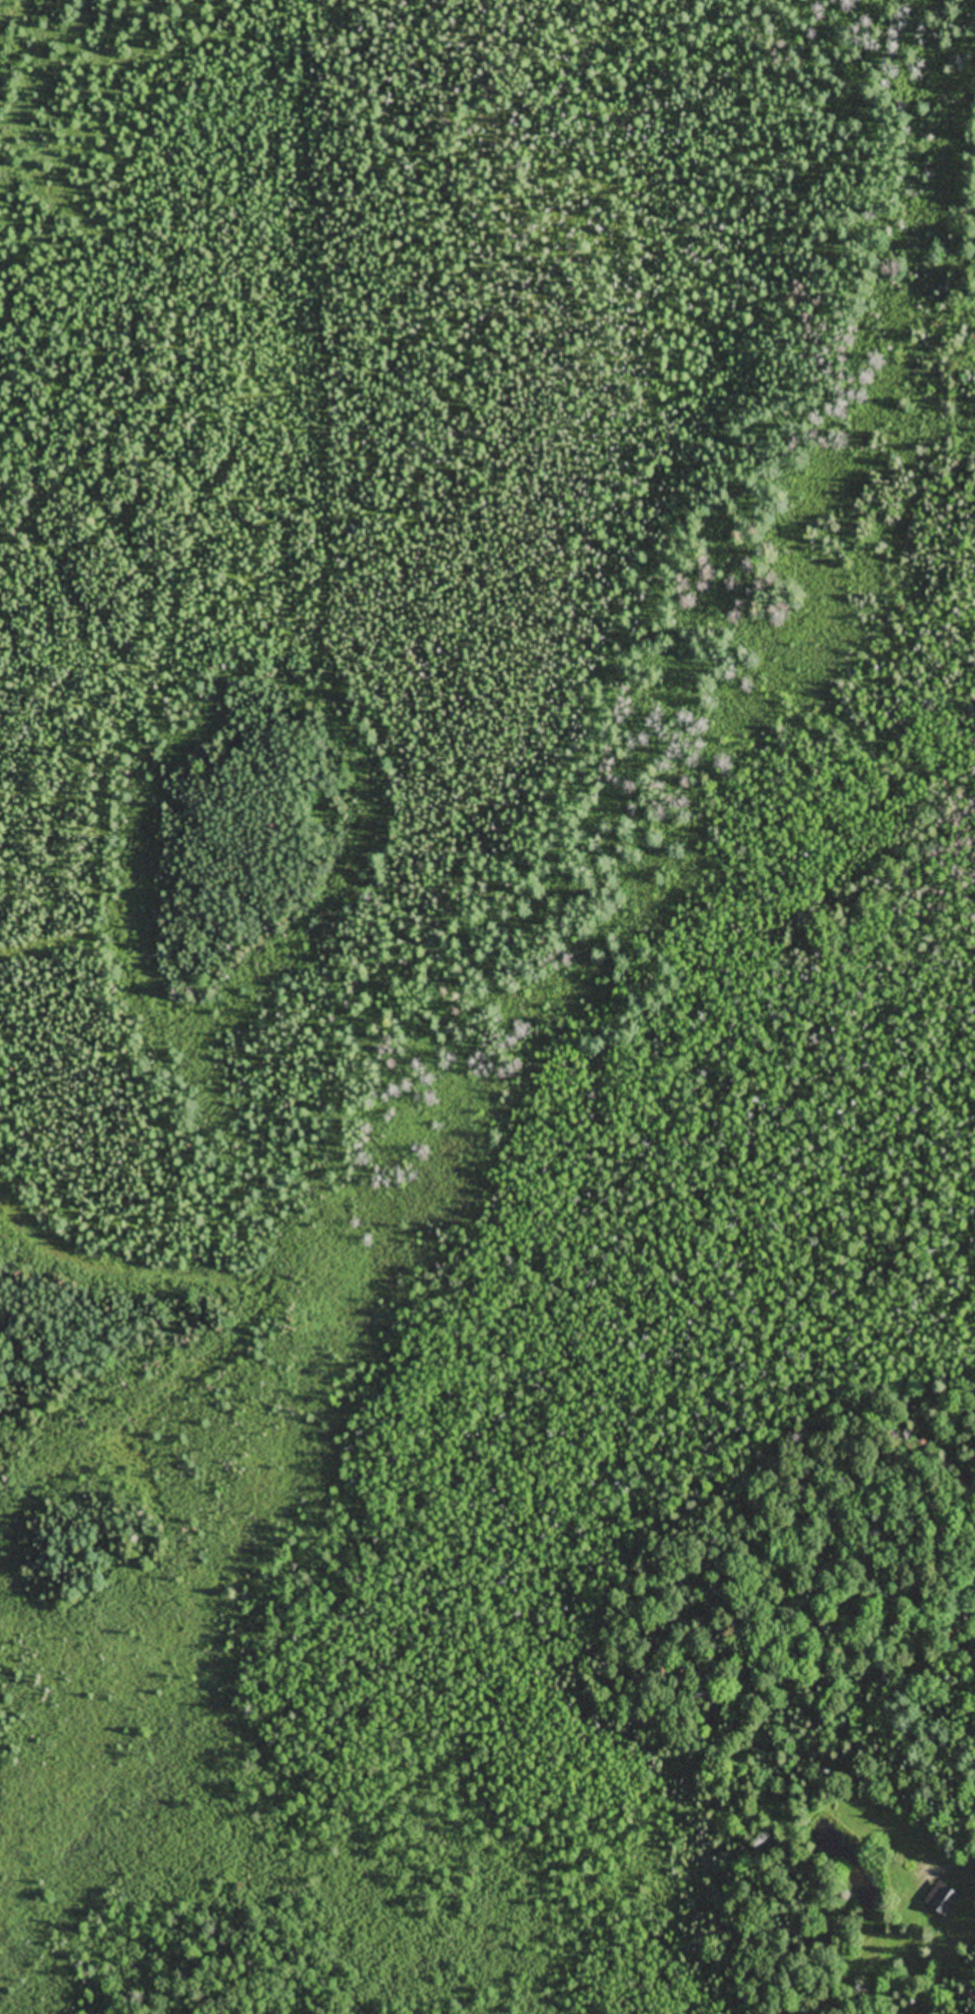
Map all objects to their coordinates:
building: (943, 1897)

